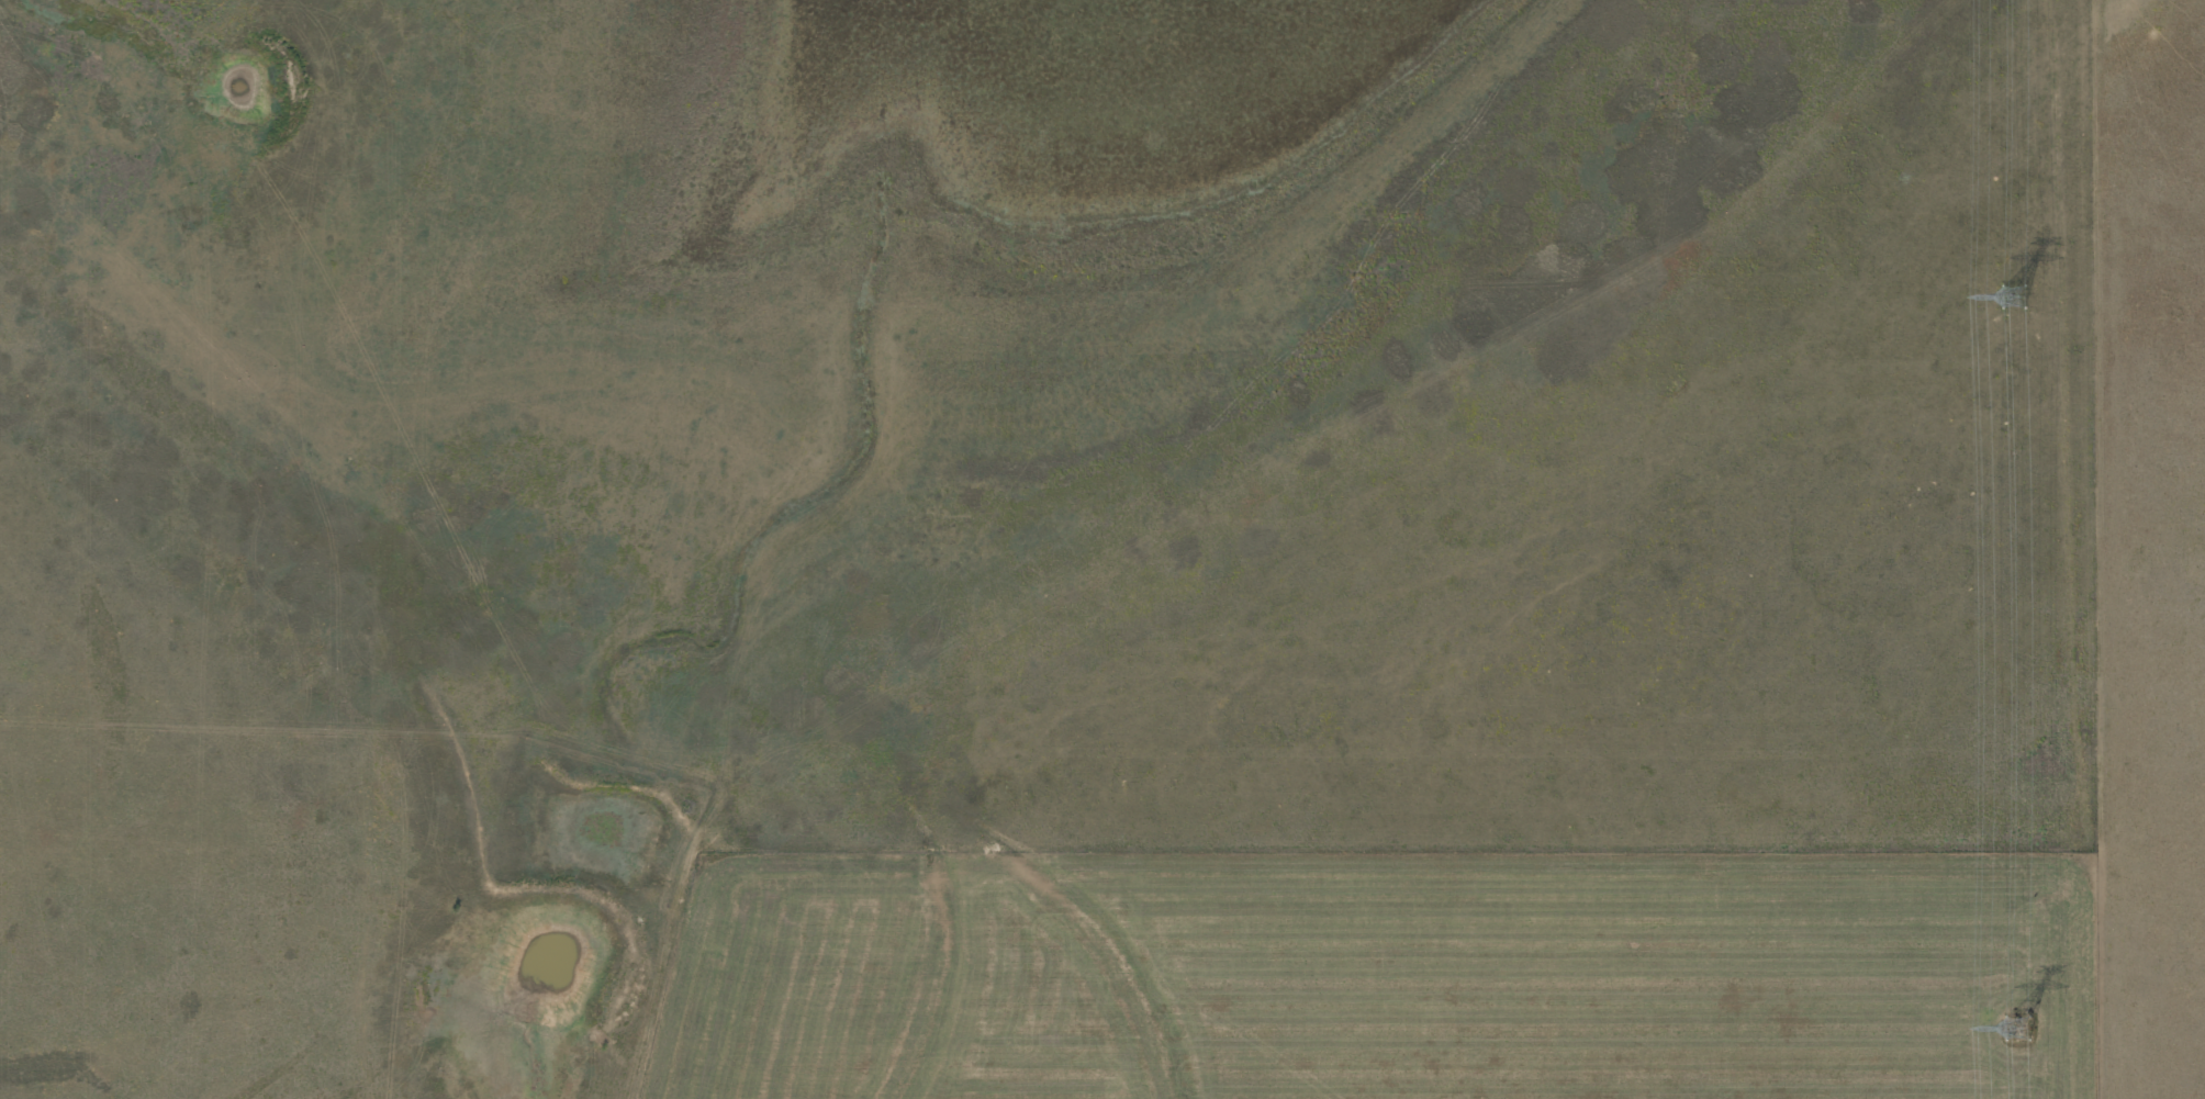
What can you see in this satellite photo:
power tower: (2013, 296)
power tower: (2016, 1029)

